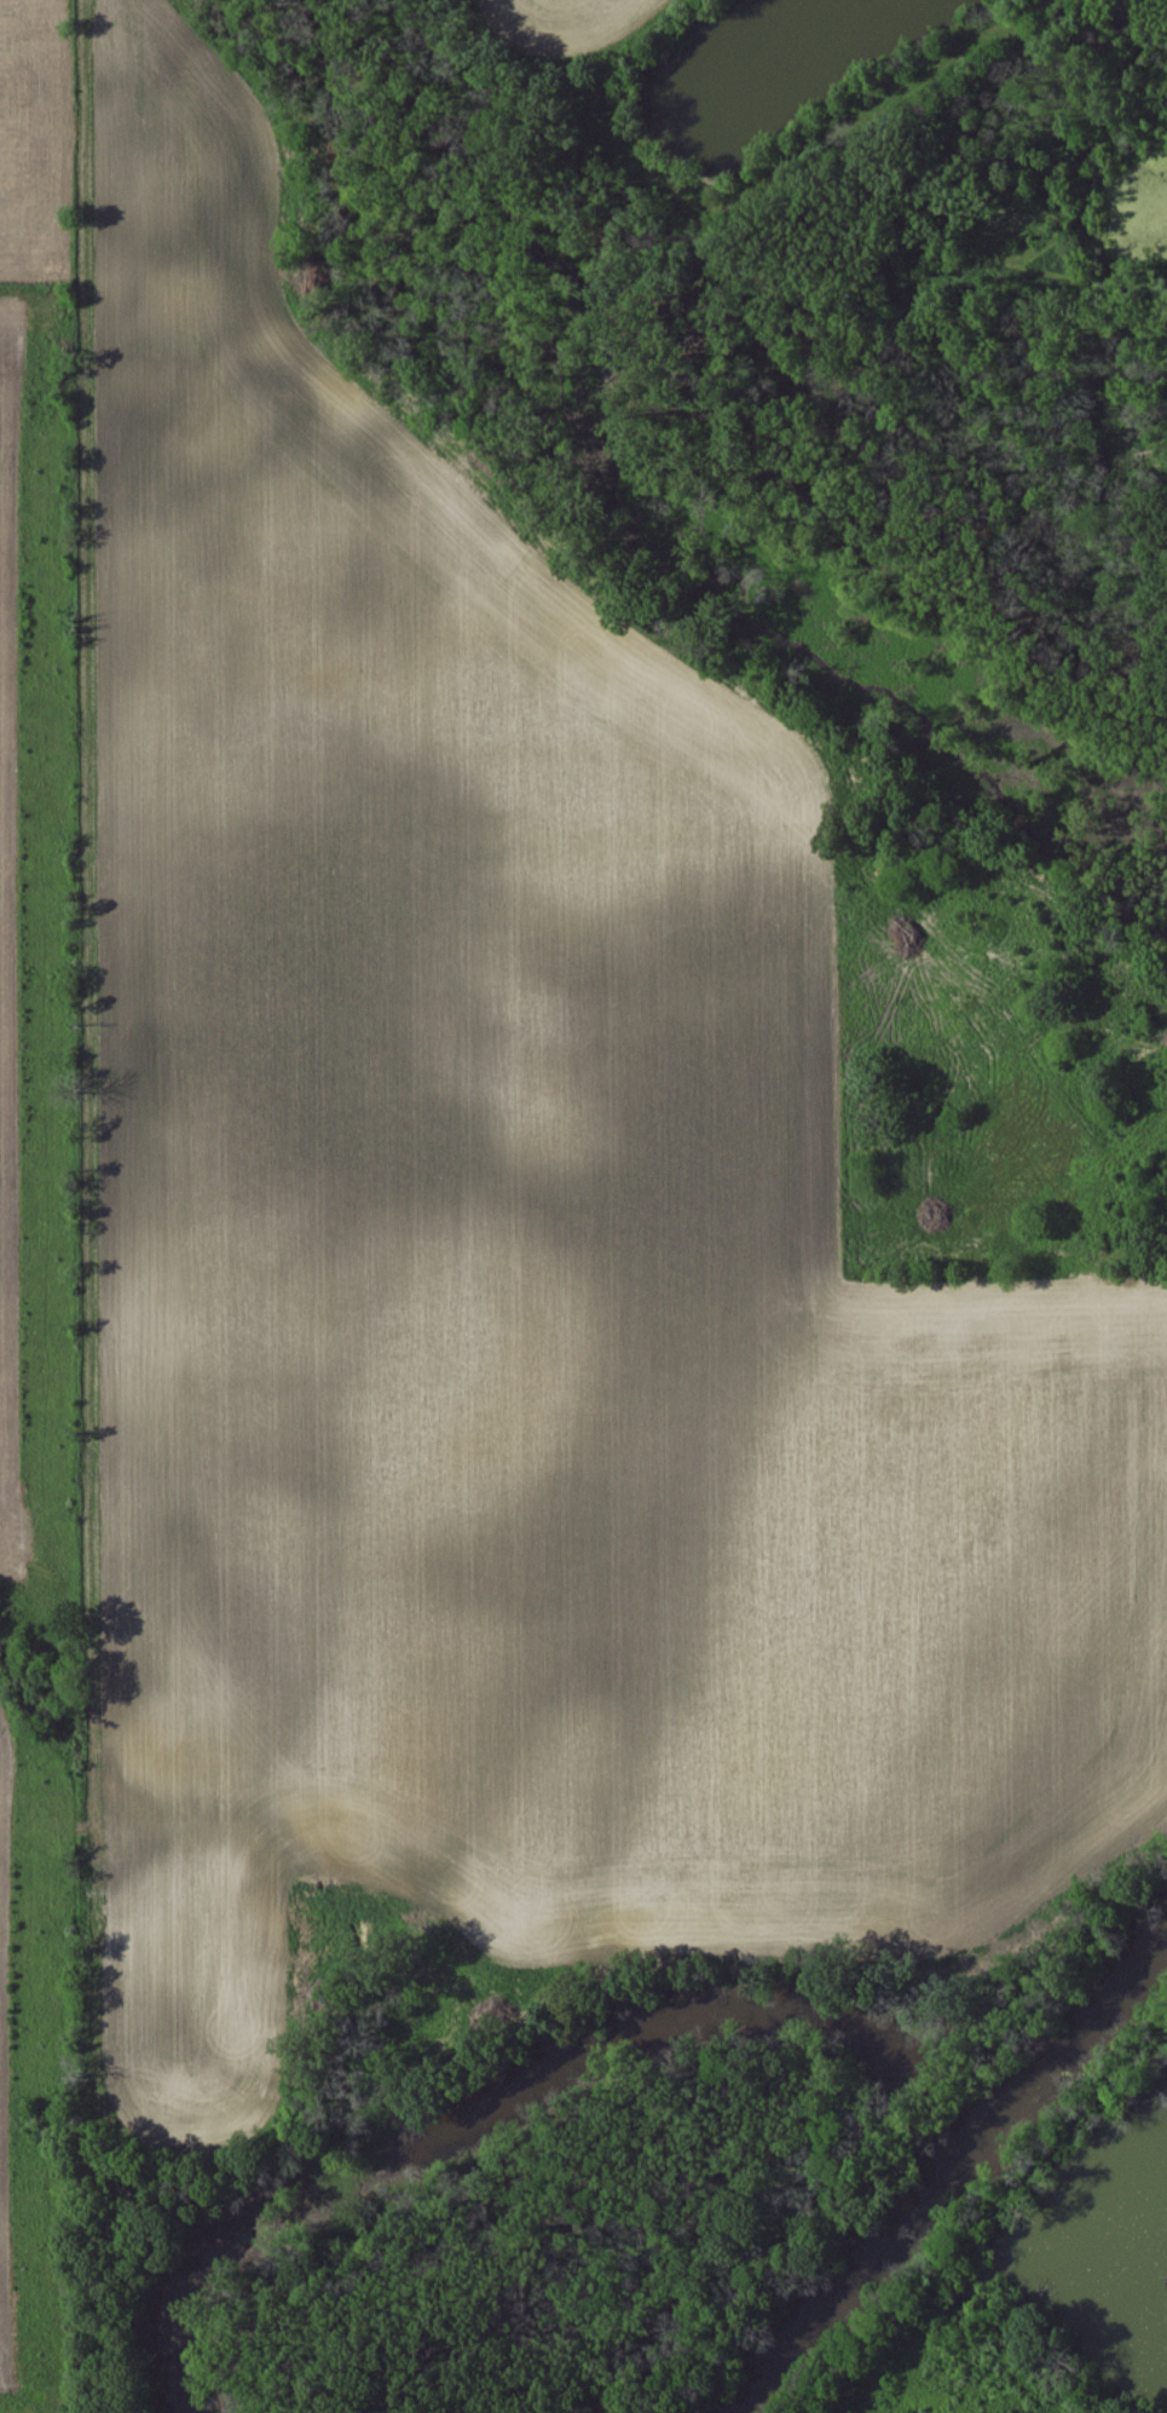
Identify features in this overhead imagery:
river: (953, 2173)

